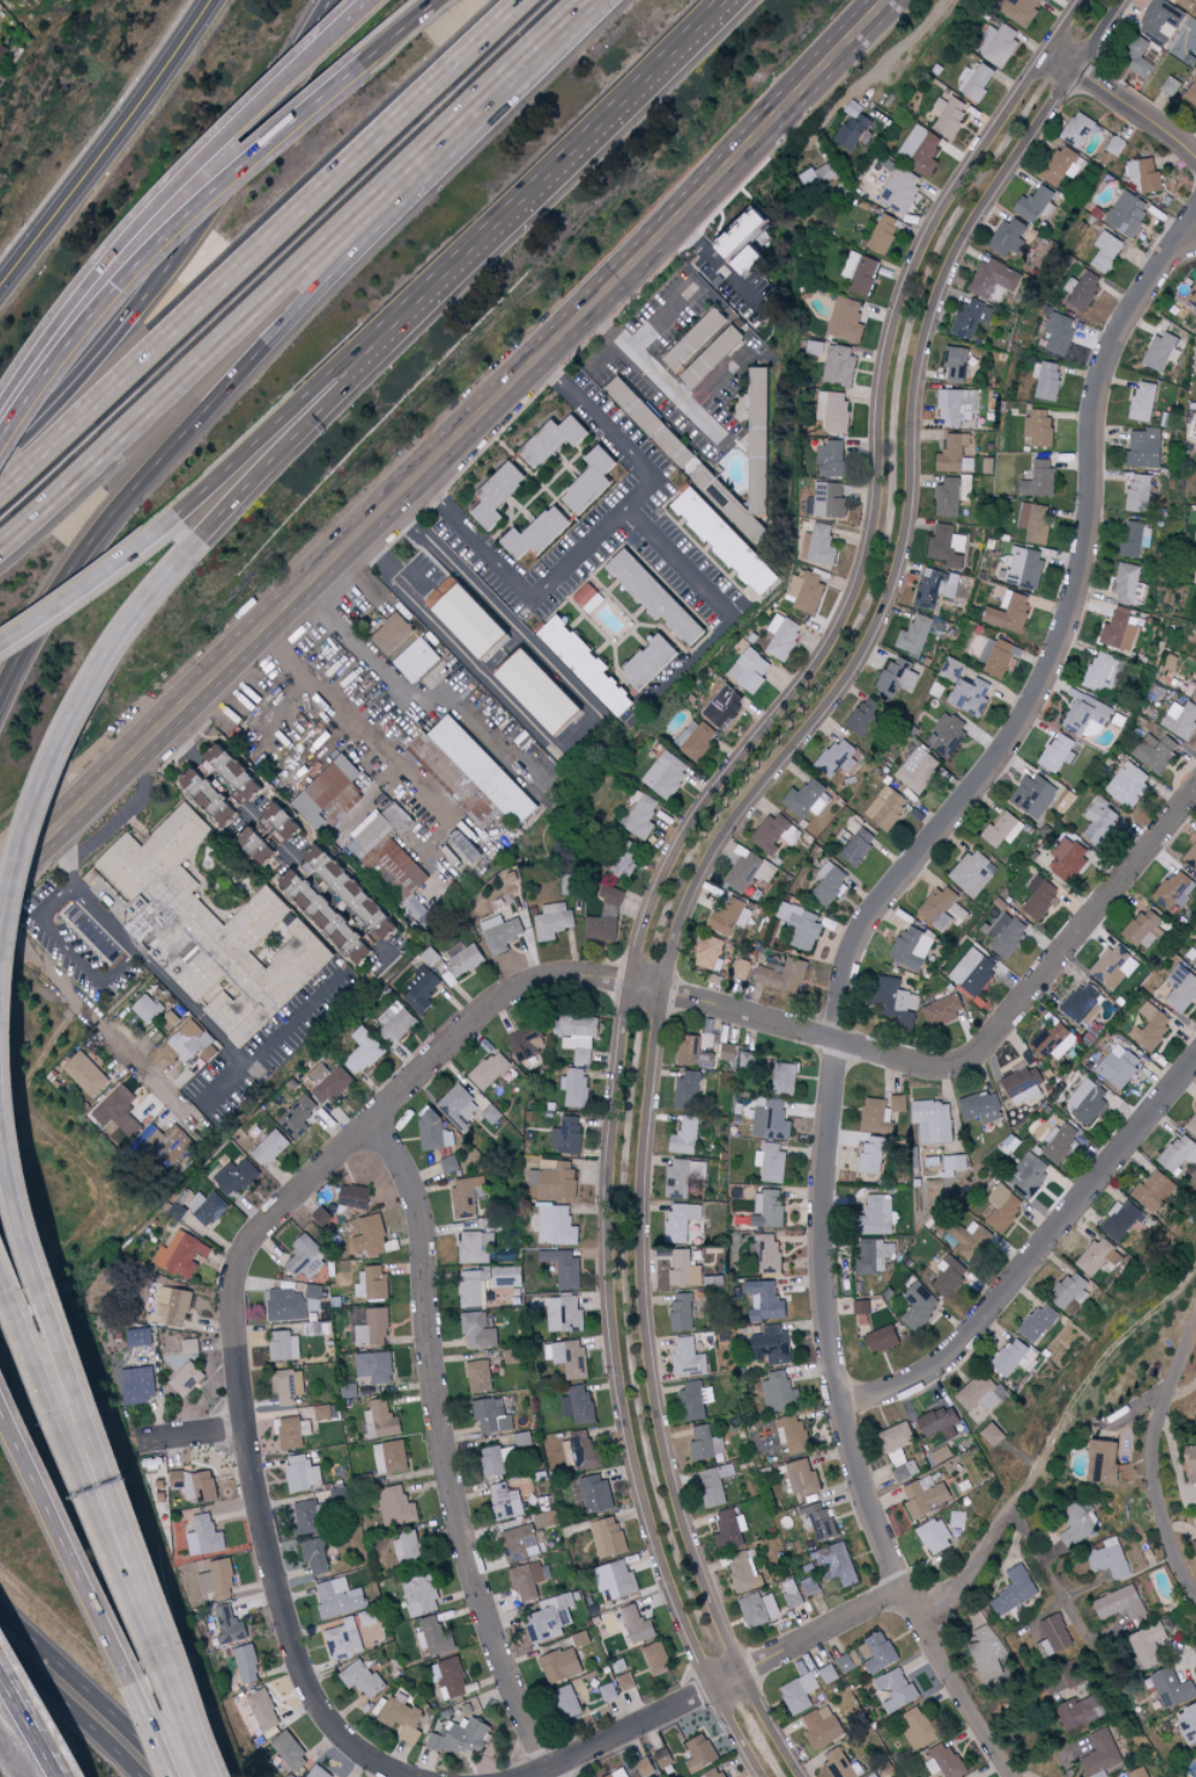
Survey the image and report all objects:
building: (1184, 2)
building: (1019, 11)
building: (1160, 20)
road: (316, 28)
road: (565, 32)
building: (996, 43)
building: (1136, 57)
road: (875, 65)
building: (977, 83)
building: (1170, 87)
building: (1191, 93)
road: (1121, 108)
building: (948, 117)
road: (588, 126)
building: (853, 129)
building: (1078, 130)
building: (1113, 145)
road: (109, 148)
building: (920, 150)
building: (1061, 166)
building: (817, 176)
building: (1142, 176)
road: (173, 190)
building: (900, 190)
road: (215, 192)
building: (1034, 204)
building: (1125, 214)
building: (734, 234)
building: (882, 234)
building: (1007, 238)
road: (186, 245)
road: (256, 246)
building: (1106, 252)
building: (727, 261)
building: (861, 273)
building: (992, 279)
building: (1084, 291)
building: (1190, 297)
road: (665, 314)
road: (266, 315)
building: (971, 319)
building: (845, 321)
building: (1059, 333)
building: (689, 339)
building: (815, 347)
building: (1159, 351)
road: (605, 353)
building: (706, 357)
building: (838, 365)
building: (954, 365)
road: (249, 367)
road: (659, 376)
road: (719, 376)
building: (1045, 381)
road: (316, 386)
road: (329, 399)
building: (1141, 402)
building: (956, 408)
building: (833, 411)
road: (6, 422)
building: (644, 423)
building: (1036, 428)
building: (553, 438)
road: (447, 447)
building: (1144, 448)
building: (950, 453)
building: (829, 460)
building: (745, 466)
building: (1036, 480)
building: (587, 481)
building: (1138, 491)
building: (499, 492)
building: (951, 495)
building: (829, 500)
building: (1031, 524)
building: (539, 531)
building: (712, 536)
road: (596, 539)
building: (1136, 540)
building: (820, 546)
building: (946, 546)
road: (394, 560)
building: (1022, 569)
building: (1194, 578)
road: (89, 581)
building: (760, 582)
building: (1129, 586)
building: (934, 588)
building: (804, 593)
building: (588, 598)
building: (645, 598)
road: (727, 607)
building: (1006, 613)
building: (469, 616)
building: (1120, 629)
building: (393, 631)
building: (916, 635)
building: (780, 637)
building: (418, 658)
building: (995, 658)
building: (579, 660)
building: (641, 662)
building: (948, 670)
building: (748, 671)
building: (1103, 673)
building: (894, 677)
building: (541, 689)
building: (934, 690)
building: (1194, 695)
building: (966, 696)
road: (417, 707)
building: (721, 708)
building: (1087, 715)
building: (1180, 720)
road: (594, 726)
building: (945, 735)
road: (367, 737)
building: (695, 738)
building: (1155, 753)
building: (1057, 754)
building: (835, 760)
building: (231, 765)
building: (915, 771)
building: (472, 774)
building: (666, 774)
building: (1126, 785)
building: (255, 789)
building: (210, 790)
building: (331, 794)
building: (1034, 797)
building: (807, 800)
building: (885, 808)
building: (278, 814)
building: (642, 818)
building: (1100, 822)
building: (293, 828)
building: (1001, 831)
building: (775, 833)
road: (280, 839)
building: (262, 842)
building: (466, 843)
building: (856, 845)
building: (394, 848)
road: (677, 849)
road: (714, 851)
building: (1191, 858)
building: (1067, 860)
building: (625, 867)
building: (748, 870)
building: (974, 873)
building: (571, 882)
building: (828, 884)
building: (1173, 890)
building: (1037, 899)
building: (339, 903)
building: (942, 909)
building: (728, 917)
building: (554, 919)
building: (605, 919)
building: (209, 927)
building: (801, 927)
building: (1143, 931)
building: (501, 932)
building: (1006, 935)
road: (72, 949)
building: (911, 949)
building: (430, 953)
building: (708, 953)
road: (142, 955)
building: (465, 956)
building: (1192, 957)
road: (840, 964)
building: (1112, 967)
building: (739, 969)
building: (972, 971)
building: (780, 976)
building: (423, 988)
building: (1180, 988)
building: (893, 1002)
building: (1082, 1003)
building: (148, 1006)
building: (941, 1010)
building: (171, 1018)
building: (397, 1020)
road: (101, 1024)
building: (191, 1024)
building: (1150, 1027)
road: (459, 1033)
building: (577, 1034)
road: (275, 1038)
building: (526, 1039)
building: (1051, 1040)
building: (194, 1045)
building: (364, 1050)
building: (726, 1052)
building: (1119, 1066)
building: (490, 1068)
building: (87, 1072)
building: (781, 1078)
building: (328, 1081)
building: (576, 1084)
building: (685, 1086)
building: (1022, 1086)
building: (1085, 1100)
road: (10, 1103)
building: (897, 1103)
building: (460, 1105)
building: (980, 1107)
building: (123, 1109)
building: (493, 1112)
building: (299, 1115)
building: (873, 1116)
building: (769, 1118)
building: (932, 1121)
building: (1191, 1125)
building: (435, 1130)
building: (567, 1134)
building: (683, 1137)
building: (1059, 1142)
building: (167, 1143)
building: (270, 1146)
building: (1178, 1152)
building: (451, 1163)
building: (770, 1163)
building: (947, 1165)
building: (1028, 1175)
building: (237, 1176)
building: (682, 1176)
building: (555, 1177)
building: (1153, 1191)
building: (466, 1194)
building: (356, 1195)
building: (208, 1206)
building: (1002, 1208)
building: (767, 1210)
building: (875, 1216)
building: (1120, 1219)
building: (678, 1220)
building: (558, 1224)
building: (371, 1235)
building: (969, 1240)
building: (477, 1246)
road: (1035, 1250)
building: (183, 1253)
building: (304, 1253)
building: (766, 1254)
building: (873, 1255)
building: (1094, 1255)
building: (345, 1266)
building: (565, 1266)
building: (686, 1271)
building: (510, 1274)
building: (950, 1274)
building: (373, 1283)
building: (474, 1285)
road: (16, 1286)
building: (315, 1290)
building: (1070, 1291)
building: (762, 1301)
building: (173, 1303)
building: (286, 1303)
building: (916, 1306)
building: (565, 1312)
building: (682, 1312)
building: (1037, 1323)
building: (314, 1326)
building: (375, 1326)
building: (480, 1327)
building: (141, 1335)
building: (880, 1339)
building: (191, 1344)
building: (286, 1344)
building: (768, 1345)
building: (567, 1355)
building: (685, 1357)
building: (1014, 1357)
building: (376, 1365)
building: (481, 1374)
building: (188, 1377)
building: (139, 1383)
building: (288, 1385)
building: (350, 1389)
building: (776, 1392)
building: (981, 1395)
road: (1078, 1395)
building: (692, 1401)
building: (578, 1402)
building: (325, 1410)
building: (493, 1414)
building: (382, 1419)
building: (1195, 1419)
building: (936, 1424)
building: (307, 1426)
building: (290, 1431)
building: (791, 1434)
building: (989, 1434)
road: (196, 1436)
building: (524, 1437)
building: (703, 1440)
building: (579, 1449)
road: (444, 1450)
building: (899, 1450)
building: (392, 1455)
building: (940, 1455)
building: (494, 1460)
building: (1095, 1461)
road: (1152, 1461)
building: (1189, 1464)
building: (304, 1472)
building: (802, 1479)
building: (197, 1482)
building: (713, 1484)
building: (594, 1493)
building: (922, 1497)
building: (507, 1499)
building: (397, 1504)
road: (103, 1509)
building: (308, 1516)
building: (543, 1519)
building: (957, 1520)
building: (816, 1521)
building: (1078, 1523)
building: (730, 1528)
building: (206, 1534)
building: (607, 1537)
building: (934, 1537)
building: (520, 1541)
road: (986, 1544)
building: (409, 1545)
building: (1194, 1547)
building: (316, 1553)
building: (1108, 1558)
building: (834, 1564)
building: (743, 1571)
building: (219, 1577)
building: (528, 1577)
road: (93, 1579)
building: (614, 1579)
building: (1014, 1591)
building: (422, 1592)
building: (792, 1593)
building: (340, 1595)
building: (1119, 1604)
building: (758, 1609)
road: (1075, 1612)
building: (551, 1616)
building: (228, 1623)
building: (635, 1624)
building: (355, 1633)
building: (1052, 1635)
building: (435, 1636)
building: (1149, 1646)
road: (1188, 1652)
building: (876, 1653)
building: (986, 1653)
building: (654, 1659)
building: (563, 1664)
building: (844, 1664)
building: (245, 1665)
building: (619, 1665)
building: (827, 1674)
building: (364, 1677)
building: (453, 1677)
road: (726, 1678)
building: (625, 1682)
building: (897, 1686)
building: (1172, 1689)
building: (606, 1692)
building: (799, 1693)
building: (567, 1700)
road: (77, 1702)
building: (262, 1710)
building: (1078, 1710)
building: (404, 1714)
road: (26, 1718)
building: (1188, 1724)
building: (819, 1728)
road: (195, 1733)
building: (460, 1735)
building: (291, 1749)
building: (698, 1753)
building: (1099, 1753)
road: (13, 1755)
building: (662, 1759)
building: (945, 1761)
building: (838, 1763)
building: (645, 1767)
road: (1021, 1771)
building: (317, 1772)
road: (535, 1772)
building: (715, 1772)
building: (1137, 1772)
building: (617, 1773)
building: (873, 1776)
building: (968, 1776)

